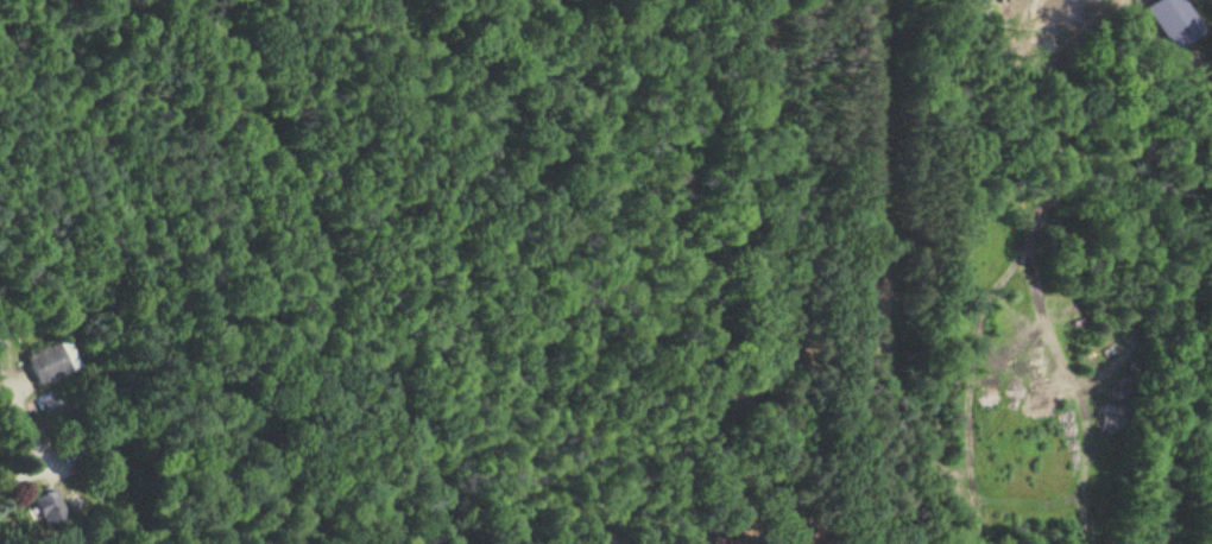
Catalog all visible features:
building: (1169, 21)
building: (48, 362)
road: (19, 474)
building: (48, 507)

